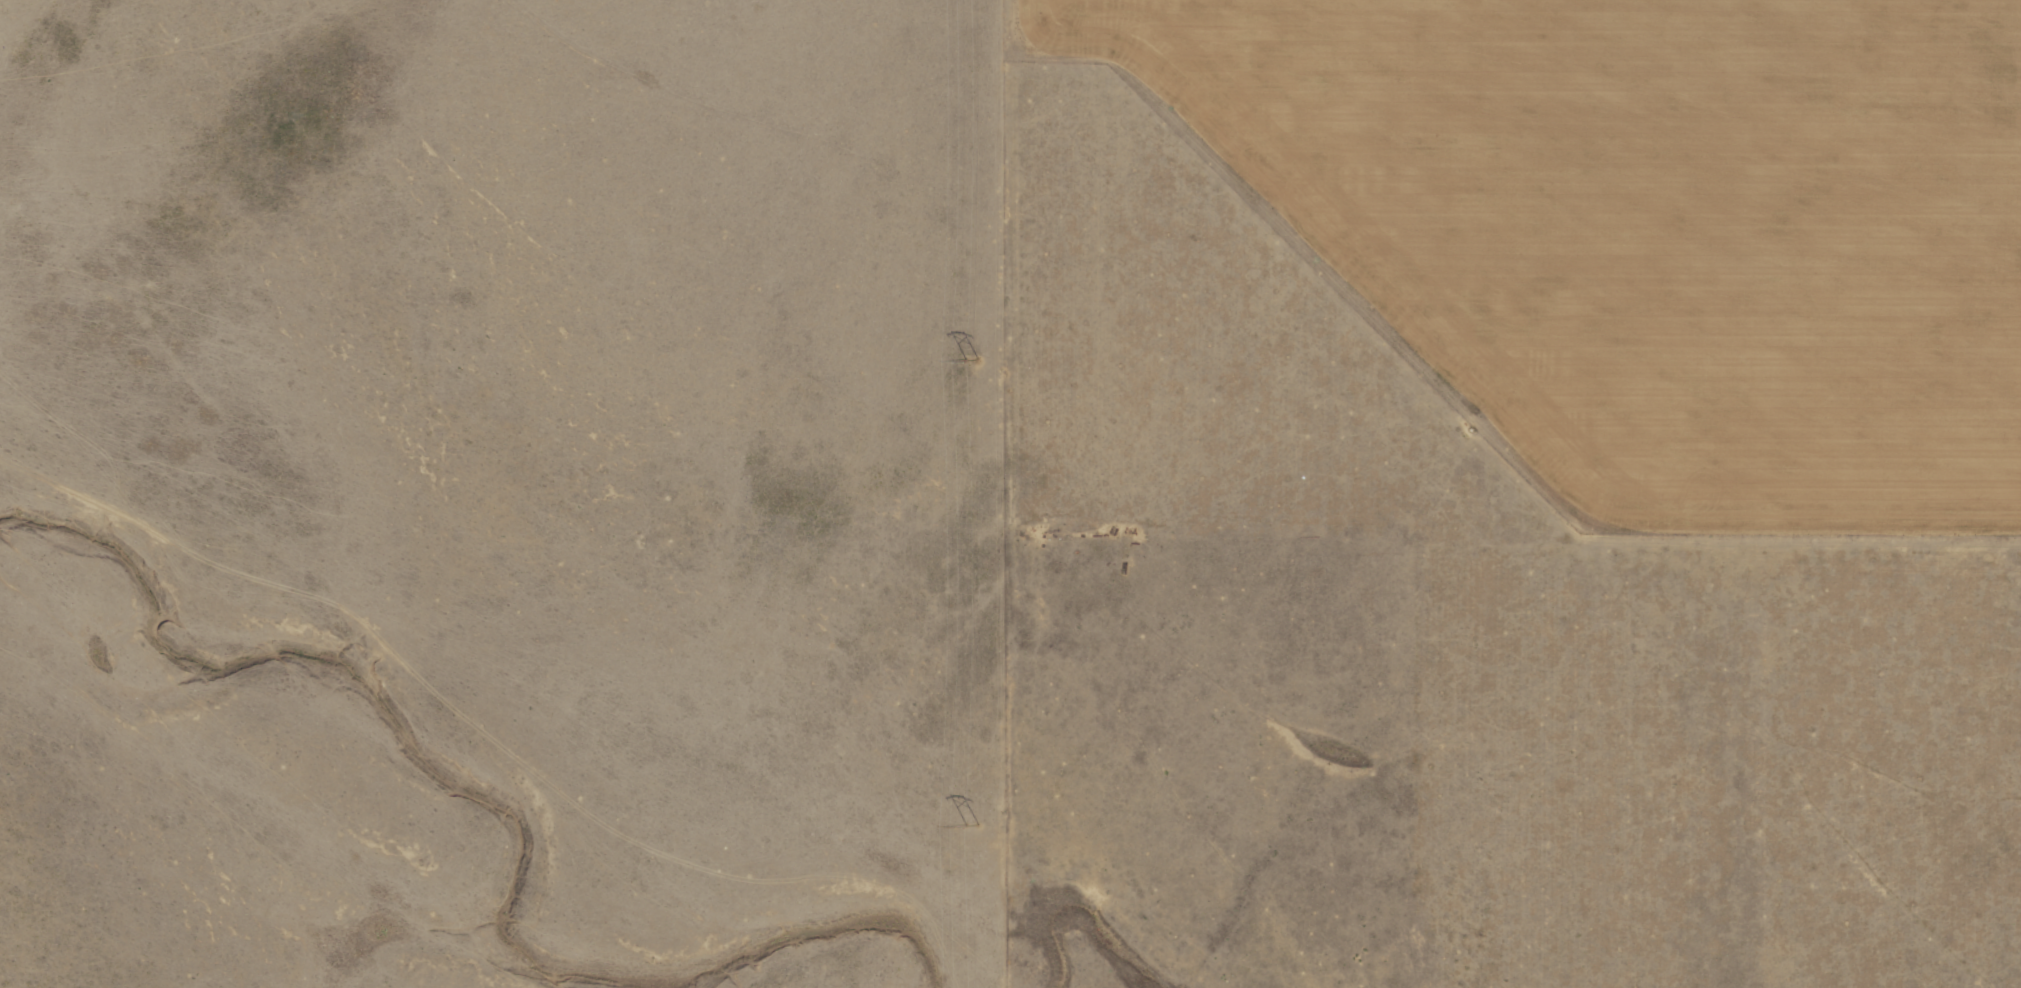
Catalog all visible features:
power tower: (969, 363)
road: (1362, 492)
road: (1002, 577)
power tower: (973, 824)

